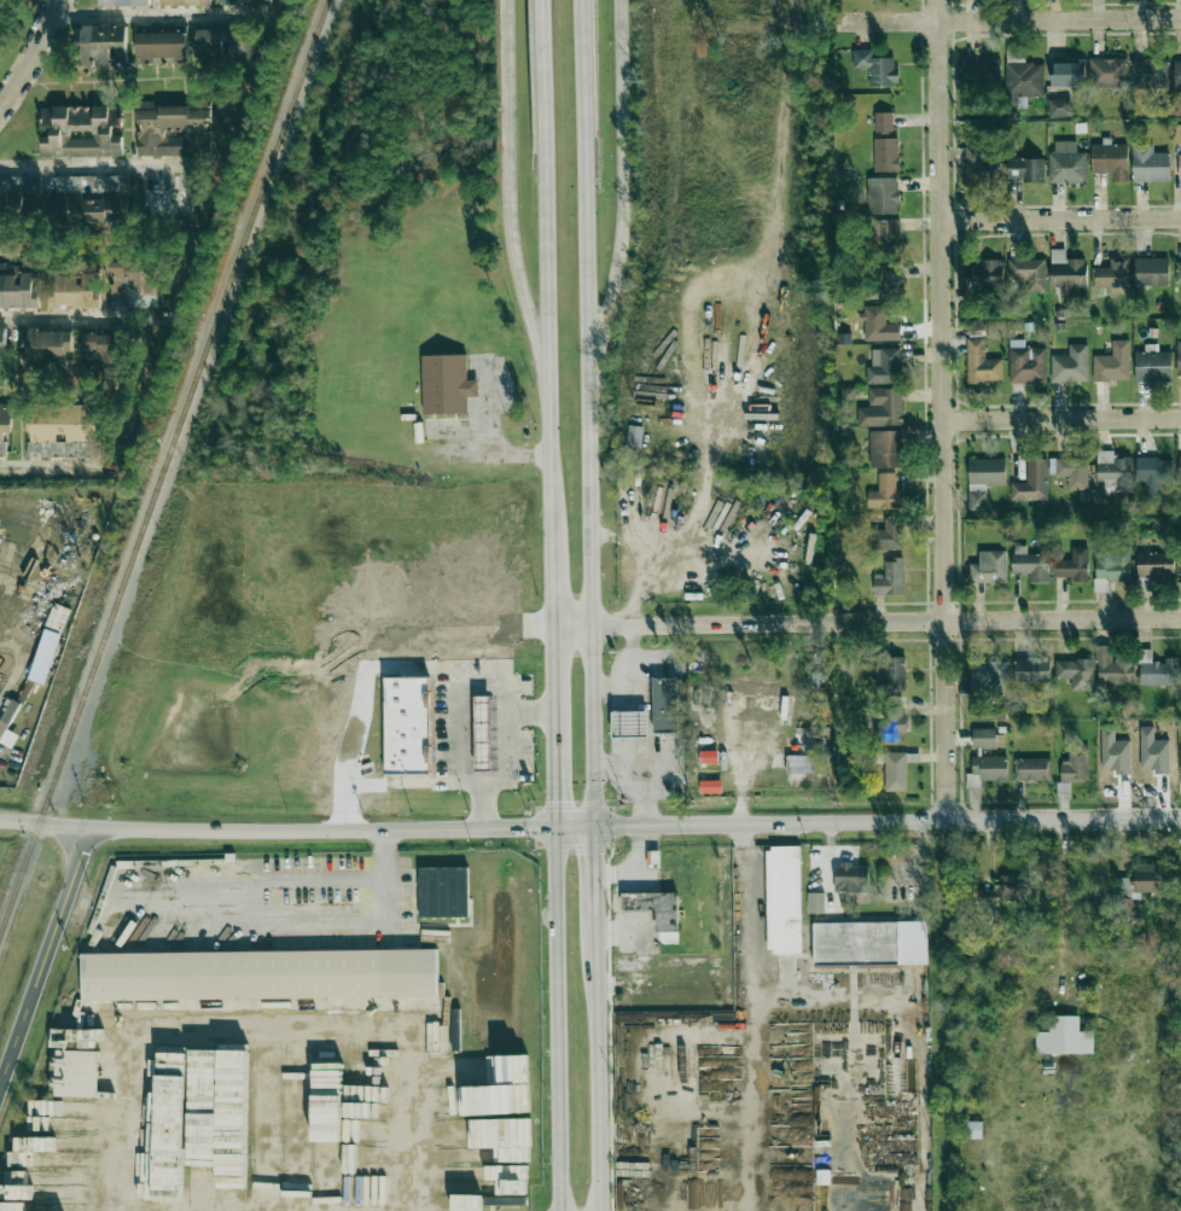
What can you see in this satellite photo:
building: (245, 1)
building: (123, 2)
building: (185, 2)
road: (164, 16)
road: (1010, 22)
building: (104, 45)
building: (162, 48)
road: (30, 54)
building: (875, 66)
building: (1107, 71)
building: (982, 72)
building: (1022, 74)
building: (1067, 74)
building: (1148, 74)
building: (1177, 75)
building: (1060, 107)
building: (884, 121)
building: (173, 129)
building: (81, 130)
building: (1177, 134)
building: (886, 155)
building: (1110, 161)
building: (1066, 163)
building: (1150, 164)
road: (103, 167)
building: (979, 167)
building: (1179, 167)
building: (1025, 169)
road: (508, 186)
road: (624, 196)
building: (883, 196)
building: (17, 197)
building: (97, 199)
road: (1060, 220)
building: (885, 237)
road: (547, 268)
building: (1151, 270)
building: (1177, 270)
building: (1066, 272)
building: (985, 273)
building: (1029, 273)
building: (1111, 274)
building: (890, 278)
building: (133, 284)
building: (18, 287)
building: (76, 291)
road: (81, 318)
building: (878, 325)
building: (2, 347)
building: (45, 347)
building: (98, 350)
building: (1179, 357)
building: (1026, 362)
building: (982, 363)
building: (1112, 363)
building: (1070, 365)
building: (1153, 365)
building: (885, 367)
building: (450, 388)
building: (883, 408)
road: (941, 411)
road: (590, 413)
road: (1061, 420)
building: (5, 425)
building: (62, 430)
building: (634, 436)
building: (884, 448)
road: (57, 464)
building: (1180, 468)
railway: (164, 470)
building: (1071, 471)
building: (1153, 471)
building: (985, 472)
building: (1113, 472)
building: (1032, 482)
building: (885, 493)
building: (977, 501)
building: (889, 535)
building: (1030, 564)
building: (1072, 565)
building: (1110, 565)
building: (1154, 565)
building: (989, 567)
building: (890, 578)
road: (551, 582)
building: (57, 618)
road: (866, 622)
building: (47, 648)
building: (1113, 668)
building: (1031, 670)
building: (1156, 670)
building: (895, 673)
building: (1076, 673)
road: (636, 676)
building: (989, 676)
road: (553, 681)
building: (752, 686)
building: (665, 704)
building: (892, 721)
building: (407, 723)
building: (629, 723)
road: (629, 724)
building: (485, 729)
building: (7, 730)
building: (984, 738)
building: (804, 749)
building: (1075, 763)
building: (1180, 763)
building: (1031, 769)
building: (895, 770)
building: (987, 770)
road: (640, 772)
road: (458, 773)
road: (557, 782)
traffic signals: (558, 800)
road: (484, 804)
road: (886, 823)
traffic signals: (617, 827)
road: (46, 828)
road: (343, 829)
traffic signals: (529, 829)
traffic signals: (594, 854)
building: (1146, 877)
building: (850, 878)
road: (594, 883)
building: (1125, 889)
building: (1001, 893)
building: (441, 896)
building: (784, 899)
building: (815, 903)
building: (656, 908)
road: (232, 926)
building: (869, 943)
road: (45, 957)
building: (260, 976)
road: (757, 976)
road: (739, 1003)
road: (558, 1020)
road: (269, 1027)
building: (1064, 1037)
road: (853, 1044)
building: (76, 1073)
road: (599, 1073)
building: (482, 1084)
building: (215, 1099)
building: (277, 1124)
building: (973, 1130)
building: (501, 1133)
building: (169, 1147)
road: (752, 1163)
road: (688, 1178)
building: (513, 1200)

